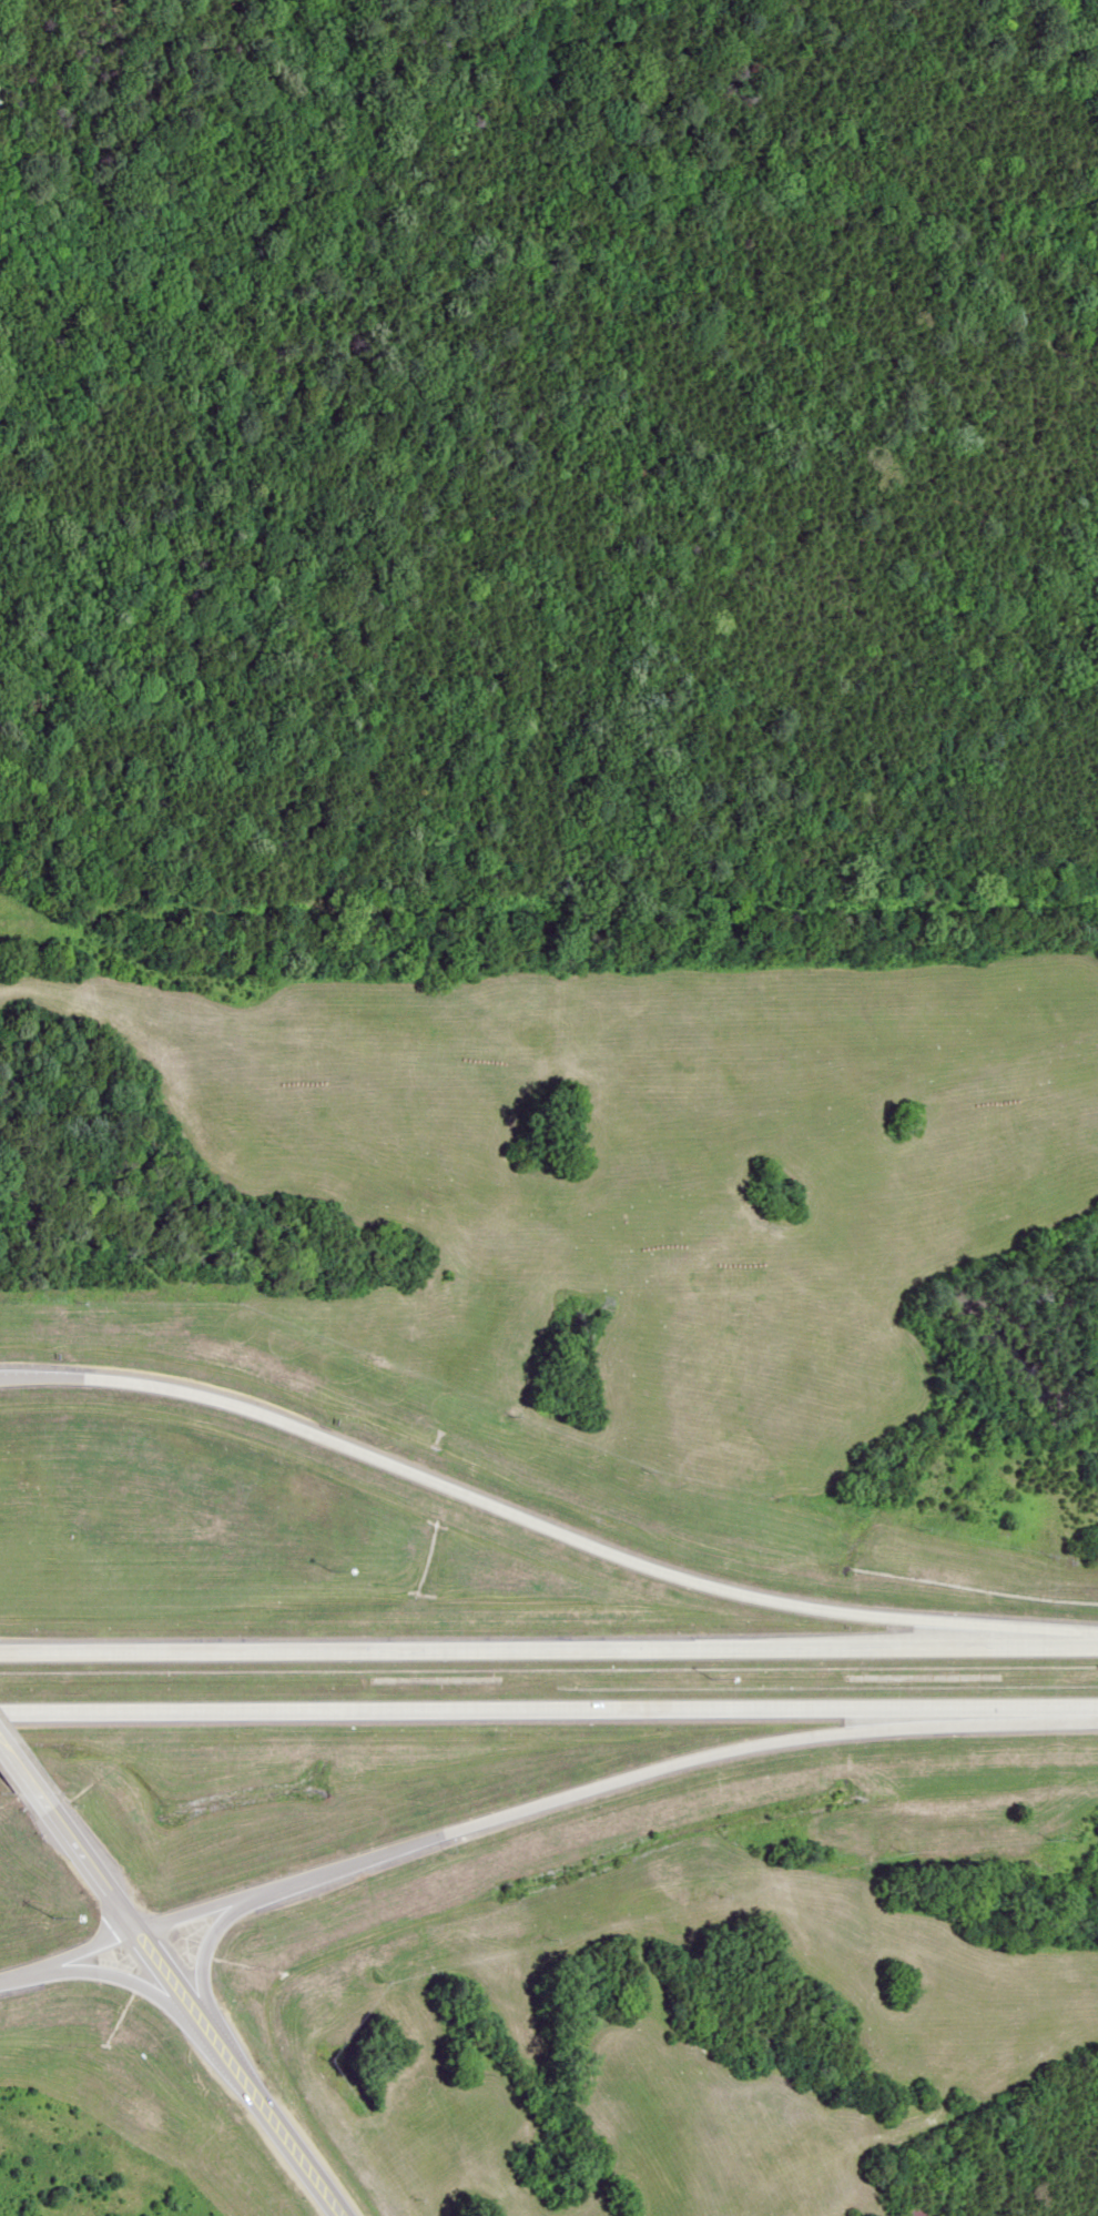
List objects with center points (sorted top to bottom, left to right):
road: (543, 1528)
road: (549, 1650)
road: (549, 1712)
road: (18, 1780)
road: (591, 1788)
road: (205, 1945)
road: (83, 1951)
road: (18, 1974)
road: (116, 1976)
road: (190, 2008)
building: (903, 2210)

